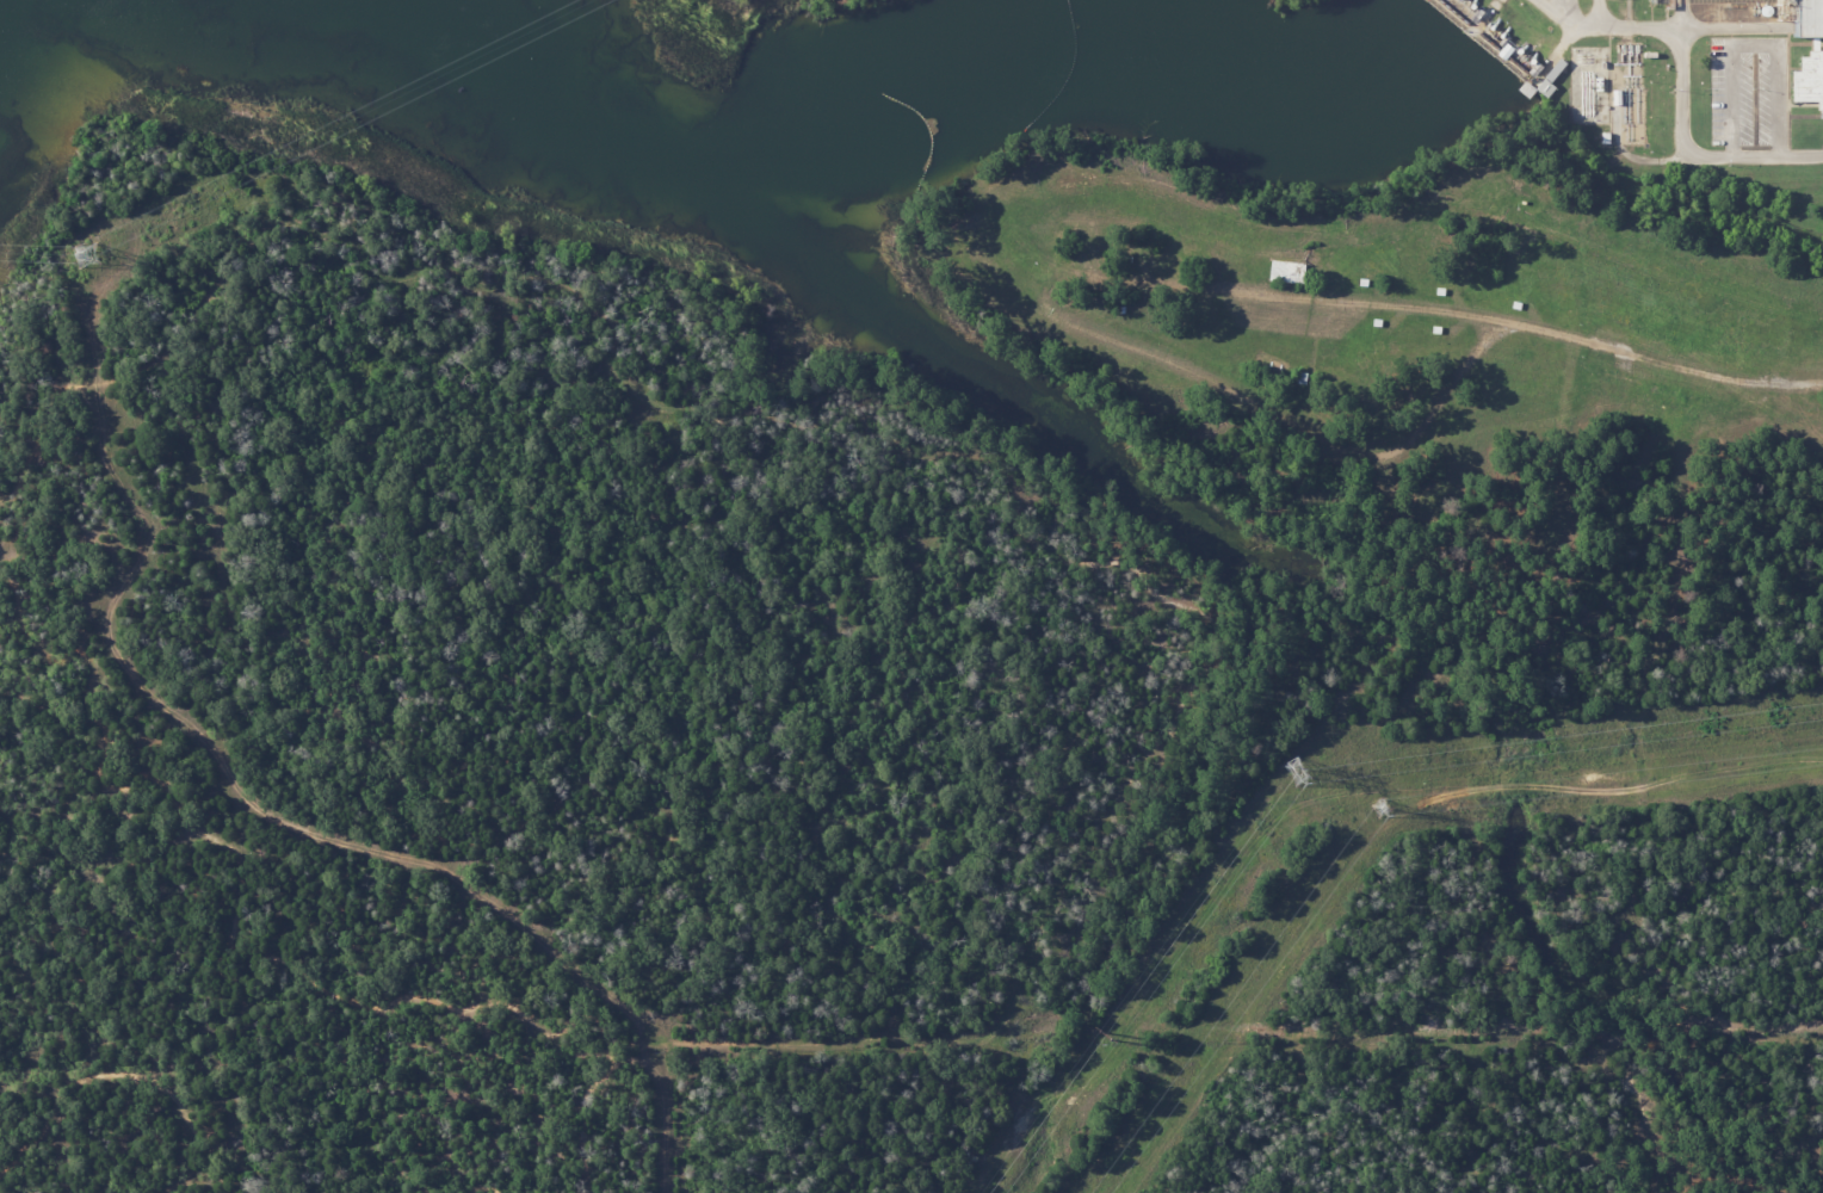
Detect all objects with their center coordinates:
road: (1571, 20)
road: (1676, 29)
building: (1551, 78)
building: (1809, 80)
power plant: (1682, 84)
road: (1682, 147)
power tower: (88, 256)
road: (1236, 283)
road: (1666, 365)
road: (1156, 744)
power tower: (1296, 772)
power tower: (1379, 812)
road: (141, 1087)
road: (595, 1130)

